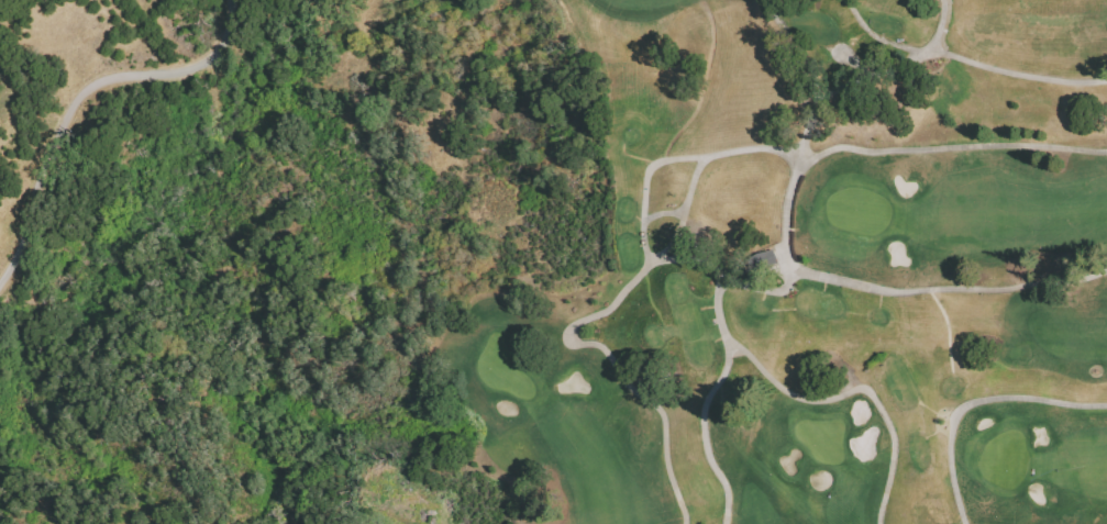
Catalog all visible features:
road: (774, 5)
road: (940, 24)
road: (879, 37)
road: (1017, 75)
road: (815, 77)
road: (75, 97)
road: (701, 140)
road: (781, 219)
building: (764, 263)
park: (817, 268)
road: (582, 343)
road: (723, 359)
road: (968, 399)
road: (791, 423)

